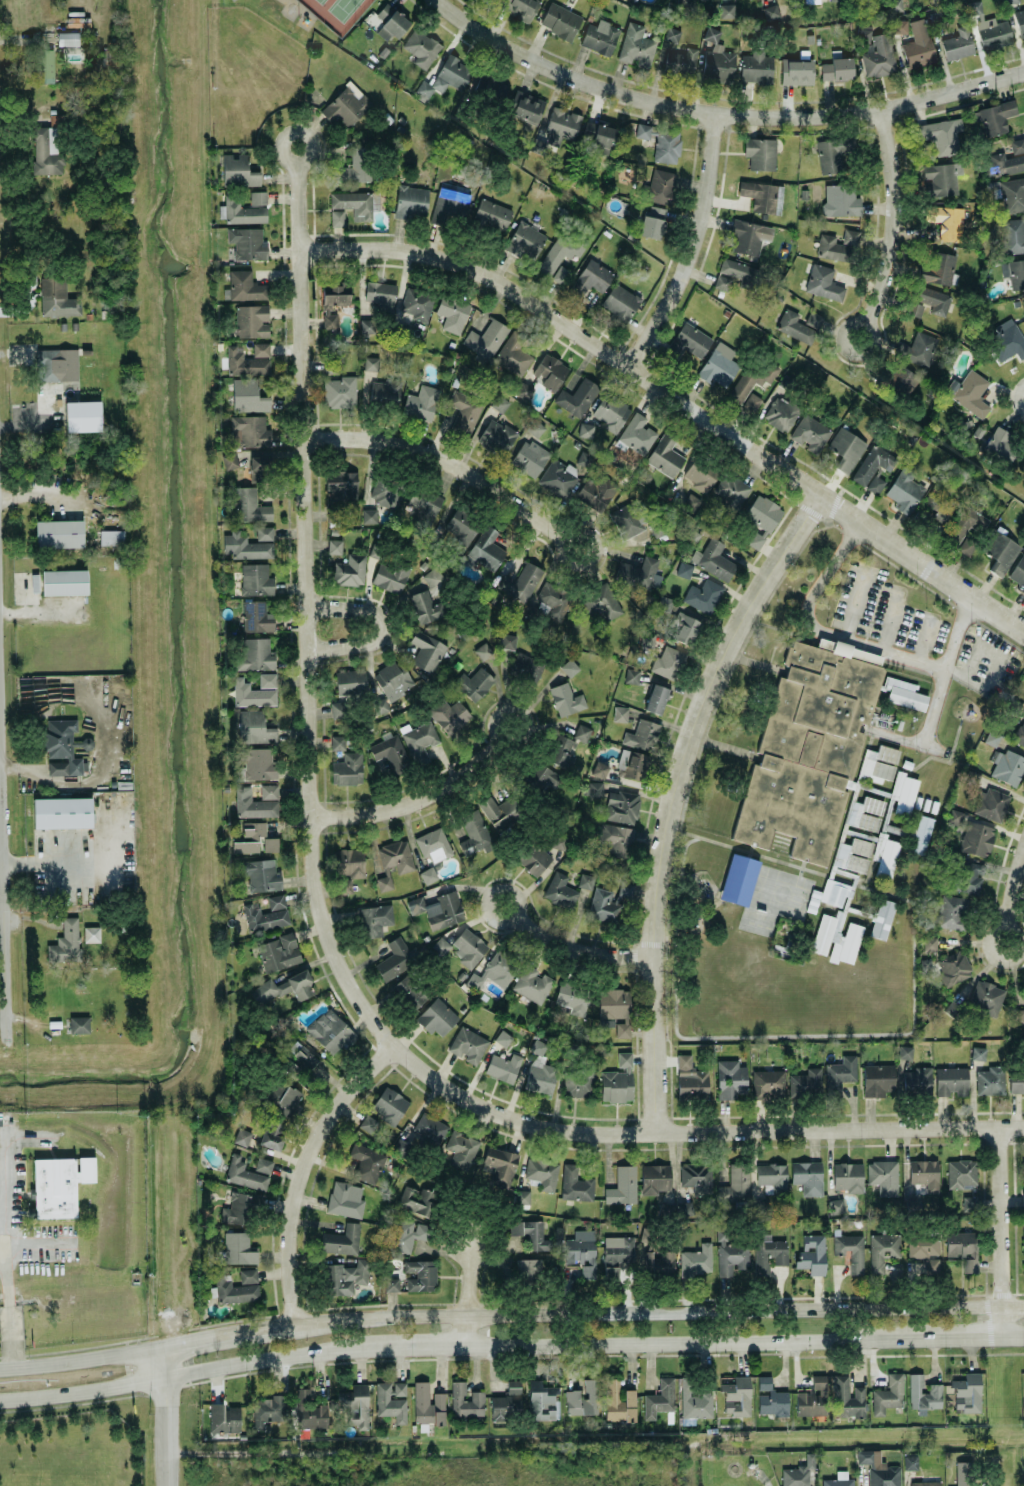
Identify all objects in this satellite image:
building: (934, 0)
building: (1011, 0)
building: (684, 4)
building: (894, 4)
building: (519, 8)
building: (726, 9)
park: (336, 12)
building: (773, 14)
building: (935, 19)
building: (559, 20)
building: (1019, 21)
building: (390, 22)
building: (240, 23)
building: (671, 33)
building: (993, 33)
building: (598, 37)
building: (66, 38)
building: (956, 44)
building: (634, 46)
building: (421, 47)
building: (917, 52)
building: (111, 53)
building: (242, 53)
building: (878, 57)
building: (679, 61)
building: (43, 63)
road: (216, 63)
building: (717, 65)
building: (755, 68)
building: (834, 68)
building: (454, 71)
building: (795, 72)
building: (490, 91)
building: (345, 105)
building: (524, 107)
road: (721, 114)
building: (993, 118)
building: (562, 123)
building: (939, 135)
building: (597, 137)
building: (665, 146)
building: (43, 151)
building: (832, 152)
building: (759, 153)
road: (287, 158)
building: (1007, 160)
building: (357, 165)
building: (238, 170)
building: (940, 179)
building: (657, 186)
building: (1012, 194)
building: (761, 196)
building: (840, 200)
building: (410, 201)
building: (350, 205)
building: (450, 205)
building: (244, 207)
building: (491, 215)
building: (651, 222)
building: (947, 222)
road: (893, 223)
building: (1012, 235)
building: (526, 237)
building: (745, 238)
building: (246, 243)
building: (838, 244)
road: (691, 247)
building: (562, 253)
building: (935, 267)
building: (1013, 272)
building: (733, 273)
building: (589, 278)
building: (822, 282)
building: (244, 286)
building: (378, 292)
building: (55, 298)
building: (331, 300)
building: (416, 300)
building: (926, 301)
building: (617, 303)
building: (451, 310)
building: (250, 320)
building: (367, 325)
building: (798, 325)
building: (485, 338)
building: (1004, 340)
building: (689, 341)
building: (916, 346)
building: (512, 354)
building: (247, 359)
building: (370, 362)
building: (47, 364)
building: (330, 364)
building: (717, 368)
building: (548, 371)
building: (898, 381)
building: (752, 382)
building: (524, 389)
building: (338, 391)
building: (969, 392)
building: (383, 393)
building: (246, 395)
building: (576, 397)
road: (675, 398)
road: (1022, 399)
building: (420, 402)
building: (499, 402)
building: (609, 411)
building: (463, 412)
building: (779, 413)
building: (82, 415)
building: (534, 424)
building: (585, 428)
building: (249, 430)
building: (809, 433)
building: (636, 434)
building: (495, 436)
building: (1001, 443)
building: (845, 448)
building: (664, 455)
building: (528, 457)
road: (442, 458)
building: (229, 459)
building: (259, 468)
building: (873, 468)
building: (700, 475)
building: (557, 476)
building: (341, 485)
building: (904, 489)
building: (385, 491)
building: (597, 491)
building: (729, 491)
building: (691, 498)
building: (423, 503)
building: (249, 504)
building: (369, 515)
building: (759, 518)
building: (635, 519)
building: (460, 526)
building: (962, 528)
road: (573, 529)
building: (58, 532)
building: (263, 532)
building: (111, 536)
building: (244, 545)
building: (334, 545)
building: (1000, 552)
building: (712, 558)
building: (682, 568)
building: (349, 569)
building: (1018, 571)
building: (639, 572)
building: (391, 574)
building: (432, 575)
building: (255, 578)
building: (34, 581)
building: (64, 581)
building: (520, 581)
building: (703, 594)
road: (856, 601)
building: (551, 602)
building: (602, 603)
building: (426, 605)
road: (0, 609)
building: (257, 615)
road: (305, 615)
road: (891, 617)
road: (381, 626)
building: (685, 628)
road: (819, 629)
road: (926, 637)
building: (508, 639)
building: (426, 650)
building: (483, 650)
building: (255, 653)
building: (668, 661)
building: (523, 666)
building: (569, 666)
road: (944, 670)
building: (631, 674)
building: (266, 679)
building: (350, 681)
road: (974, 681)
building: (389, 682)
building: (473, 682)
building: (903, 692)
building: (251, 693)
building: (656, 697)
building: (566, 698)
building: (338, 708)
building: (620, 712)
road: (1, 714)
building: (448, 714)
building: (254, 726)
road: (495, 727)
building: (337, 730)
building: (581, 731)
building: (1020, 733)
building: (642, 734)
building: (418, 738)
road: (905, 740)
building: (337, 741)
building: (62, 747)
building: (390, 750)
building: (560, 750)
building: (806, 752)
building: (884, 760)
building: (257, 762)
building: (632, 763)
building: (1007, 765)
building: (347, 768)
building: (599, 768)
building: (543, 777)
building: (595, 787)
building: (268, 790)
building: (904, 792)
road: (672, 797)
road: (415, 801)
road: (4, 802)
building: (253, 803)
building: (991, 803)
building: (621, 805)
building: (62, 811)
building: (501, 811)
building: (473, 831)
building: (921, 833)
building: (249, 836)
building: (617, 838)
building: (559, 839)
building: (270, 843)
building: (433, 843)
building: (395, 854)
building: (855, 854)
building: (534, 858)
building: (887, 858)
road: (46, 860)
building: (348, 866)
building: (260, 874)
building: (428, 874)
building: (968, 877)
building: (738, 878)
building: (384, 880)
building: (584, 880)
road: (1013, 885)
building: (625, 888)
building: (560, 889)
building: (834, 891)
building: (603, 904)
road: (519, 906)
building: (438, 908)
building: (953, 911)
building: (266, 912)
building: (882, 917)
building: (374, 918)
building: (823, 932)
building: (91, 933)
building: (66, 940)
road: (987, 940)
building: (929, 942)
building: (846, 943)
building: (468, 946)
road: (581, 949)
building: (278, 951)
building: (395, 957)
building: (953, 966)
building: (493, 971)
building: (532, 982)
building: (284, 986)
building: (408, 991)
building: (986, 996)
building: (572, 998)
building: (616, 1007)
building: (951, 1007)
building: (1018, 1015)
building: (436, 1016)
building: (78, 1023)
building: (330, 1030)
building: (502, 1034)
building: (467, 1044)
building: (905, 1051)
building: (978, 1052)
building: (301, 1055)
building: (503, 1065)
building: (839, 1074)
building: (539, 1077)
building: (690, 1078)
building: (730, 1078)
building: (877, 1078)
building: (616, 1079)
building: (951, 1079)
building: (990, 1079)
building: (917, 1080)
building: (805, 1081)
building: (580, 1082)
building: (1016, 1082)
building: (768, 1083)
building: (285, 1099)
building: (389, 1103)
building: (368, 1123)
road: (697, 1132)
building: (271, 1133)
building: (241, 1135)
building: (447, 1139)
building: (400, 1145)
building: (365, 1162)
building: (263, 1164)
building: (501, 1164)
road: (302, 1171)
building: (243, 1172)
building: (542, 1172)
building: (924, 1172)
building: (960, 1172)
building: (807, 1175)
building: (848, 1175)
building: (883, 1175)
building: (771, 1176)
building: (655, 1177)
building: (696, 1177)
building: (1023, 1179)
building: (59, 1183)
building: (575, 1183)
building: (735, 1183)
building: (622, 1184)
building: (521, 1195)
helipad: (6, 1196)
building: (345, 1198)
building: (417, 1199)
building: (969, 1202)
building: (835, 1204)
building: (667, 1206)
building: (239, 1207)
building: (515, 1227)
road: (1000, 1230)
building: (404, 1233)
building: (535, 1235)
building: (341, 1238)
building: (237, 1246)
building: (962, 1247)
building: (882, 1248)
building: (1023, 1249)
building: (582, 1250)
building: (770, 1250)
building: (850, 1250)
building: (923, 1252)
building: (617, 1253)
building: (812, 1253)
building: (730, 1254)
building: (696, 1259)
building: (659, 1261)
building: (528, 1267)
building: (248, 1274)
building: (419, 1274)
building: (347, 1275)
building: (391, 1283)
building: (234, 1289)
road: (469, 1290)
road: (651, 1310)
road: (8, 1311)
road: (1012, 1336)
road: (220, 1337)
road: (956, 1337)
road: (689, 1340)
road: (418, 1344)
road: (80, 1358)
road: (266, 1359)
road: (162, 1362)
building: (965, 1391)
road: (81, 1392)
building: (923, 1392)
building: (887, 1393)
building: (736, 1394)
building: (846, 1396)
building: (583, 1397)
building: (659, 1397)
building: (770, 1397)
building: (812, 1397)
building: (391, 1399)
building: (540, 1399)
building: (694, 1399)
building: (465, 1400)
building: (507, 1400)
building: (618, 1401)
building: (427, 1403)
building: (355, 1404)
building: (267, 1409)
building: (308, 1409)
building: (224, 1417)
road: (164, 1431)
building: (910, 1461)
building: (878, 1468)
building: (797, 1472)
building: (964, 1473)
building: (838, 1479)
building: (924, 1483)

